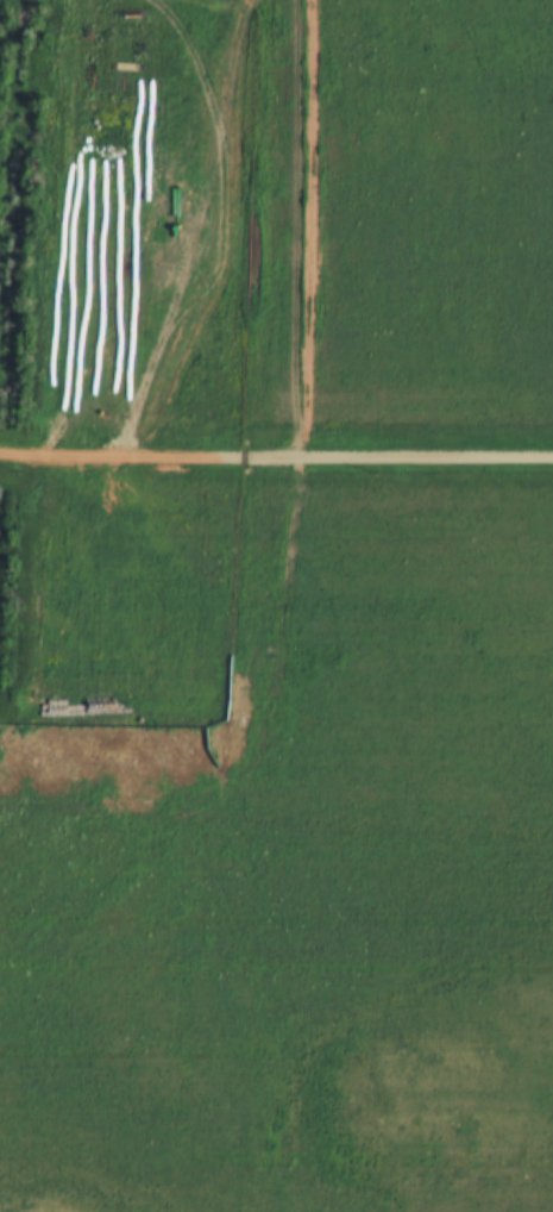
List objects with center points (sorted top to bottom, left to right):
road: (63, 227)
road: (276, 451)

